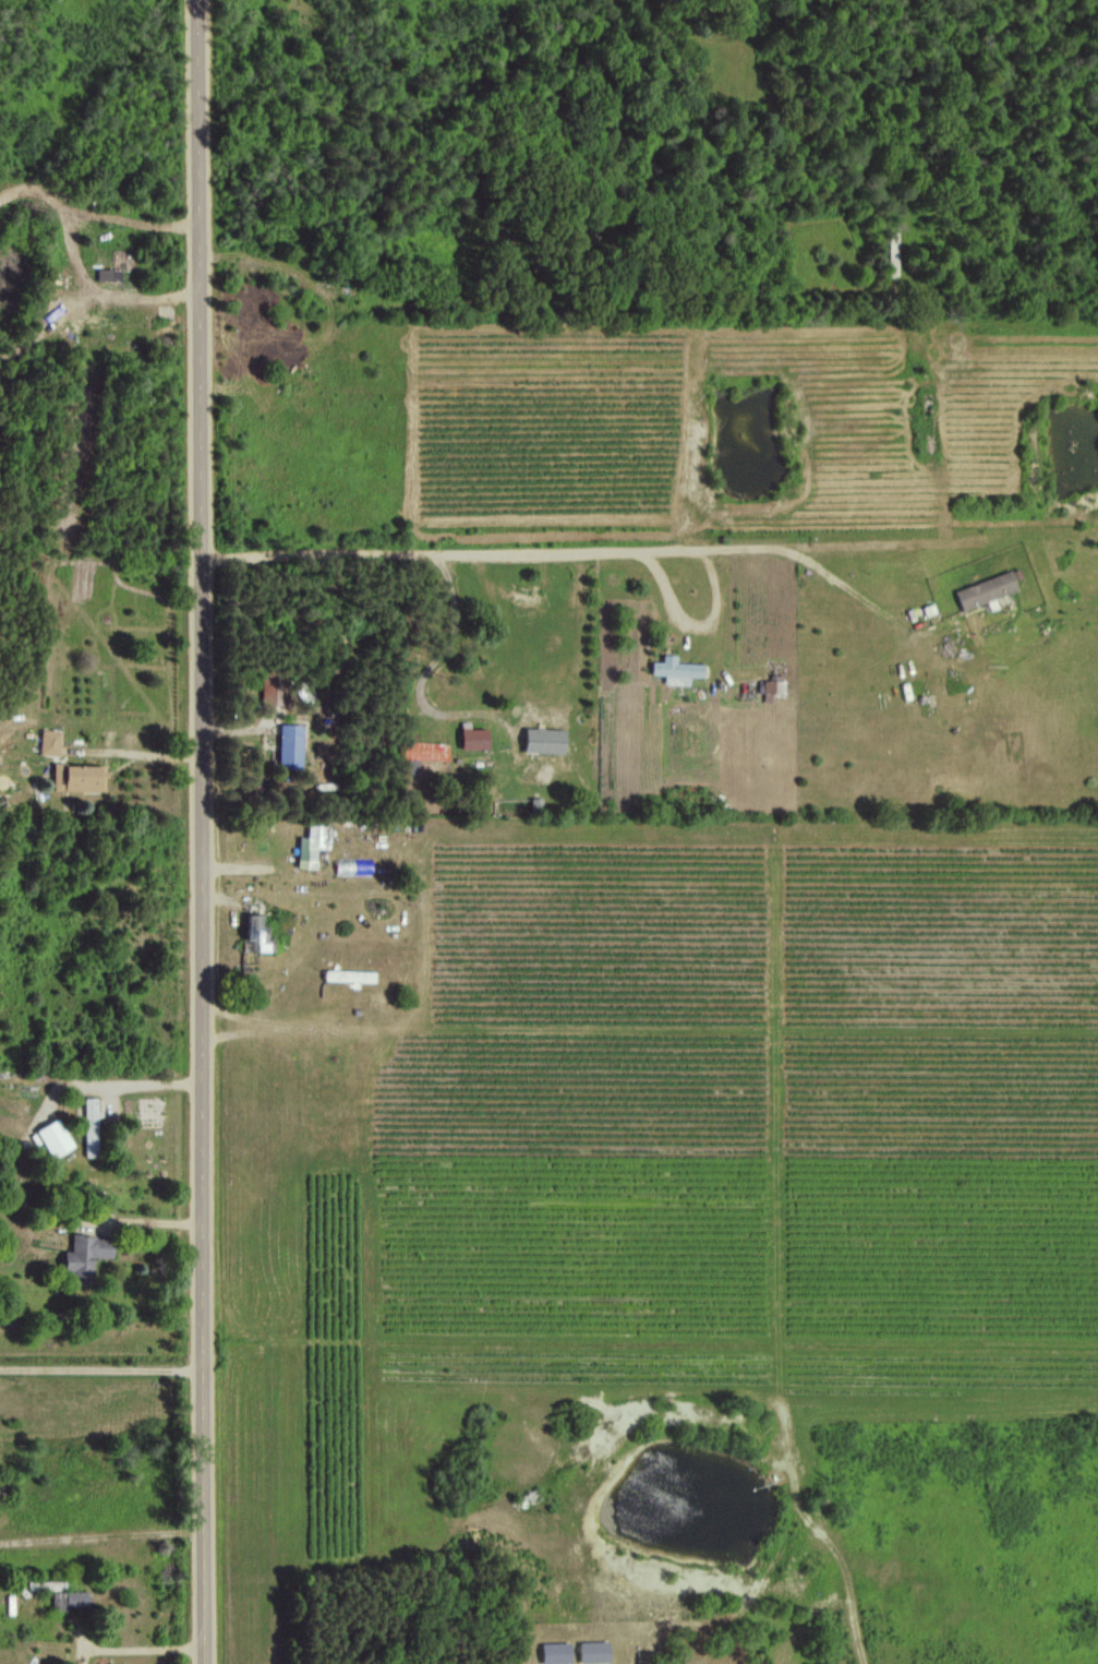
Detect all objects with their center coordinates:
building: (108, 273)
road: (577, 551)
building: (985, 589)
road: (696, 619)
building: (675, 669)
building: (269, 686)
building: (771, 686)
road: (455, 713)
building: (472, 737)
building: (543, 740)
building: (48, 741)
building: (288, 743)
road: (136, 753)
building: (77, 777)
road: (200, 831)
building: (310, 846)
building: (255, 933)
road: (144, 1086)
building: (91, 1127)
building: (53, 1138)
road: (144, 1221)
building: (85, 1254)
road: (101, 1334)
road: (101, 1537)
building: (71, 1601)
road: (147, 1643)
building: (593, 1651)
building: (555, 1652)

